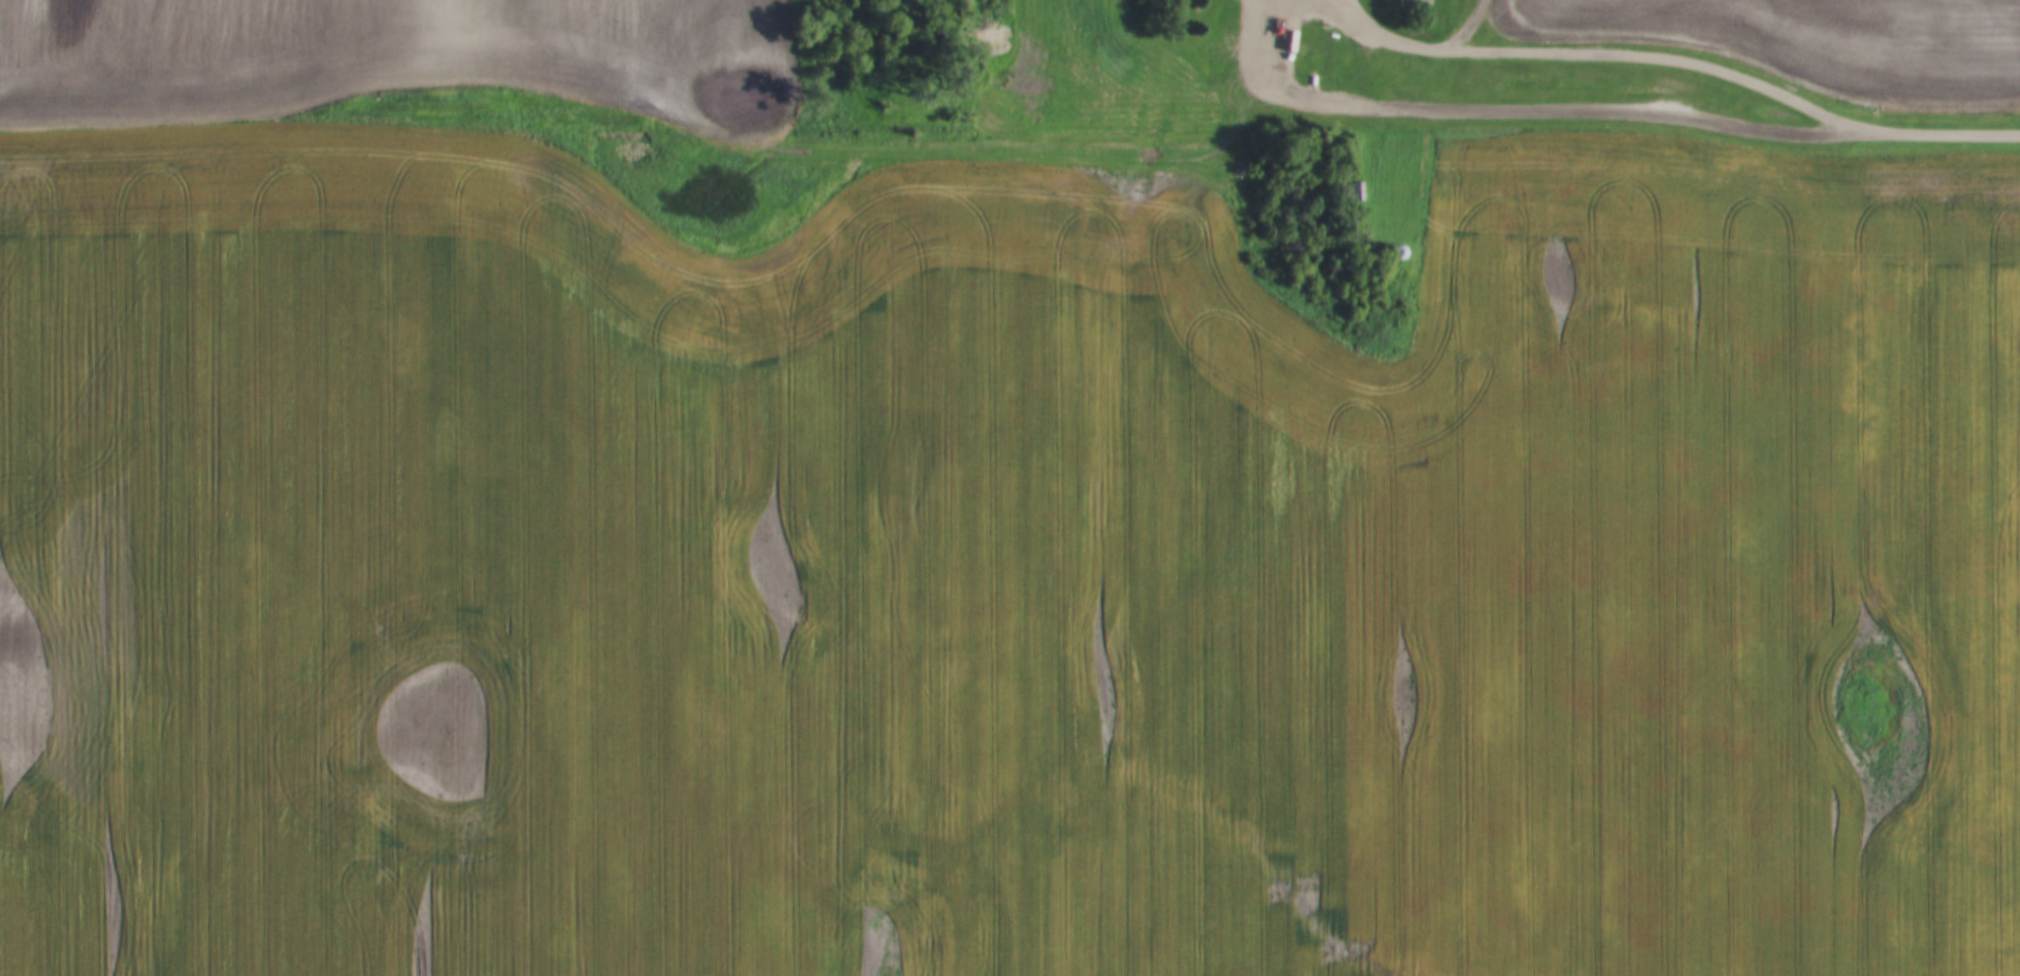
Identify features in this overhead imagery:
building: (1415, 2)
road: (1677, 63)

